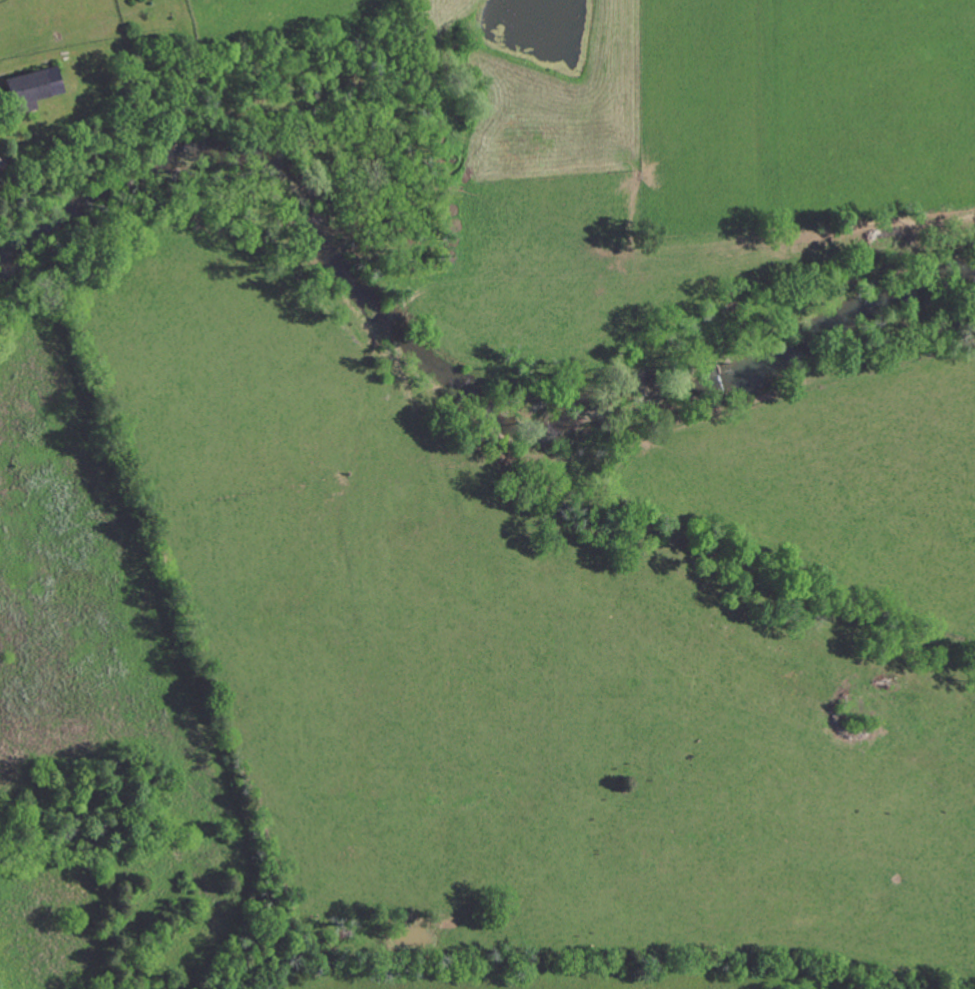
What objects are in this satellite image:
building: (30, 88)

